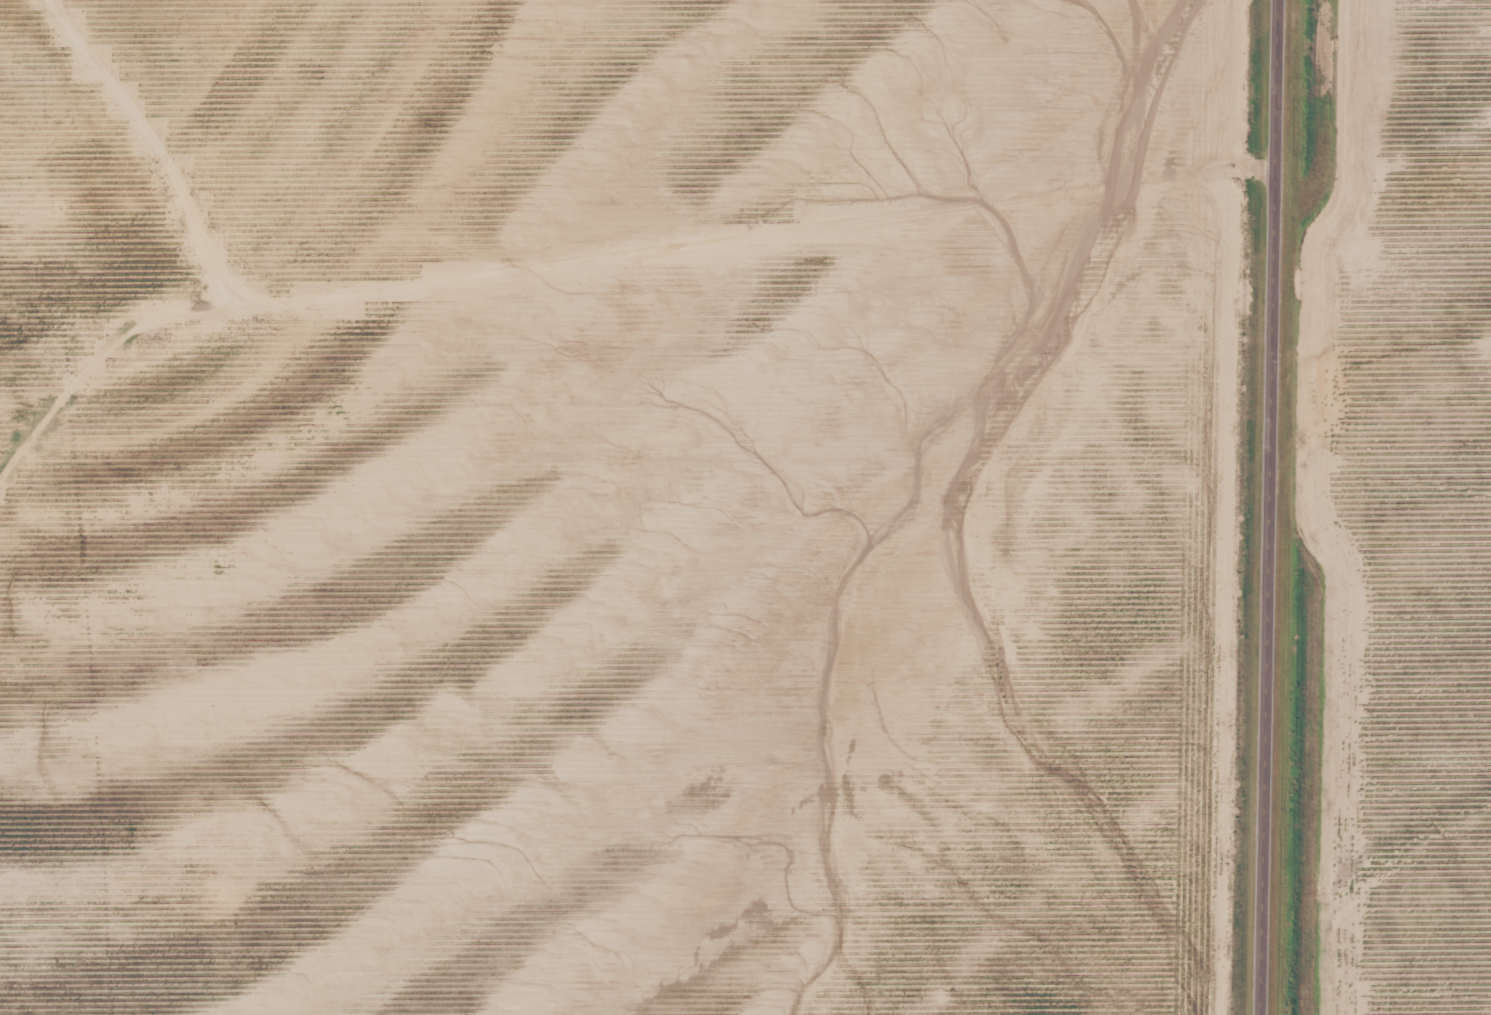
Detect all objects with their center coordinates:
road: (145, 140)
road: (597, 241)
road: (1270, 507)

